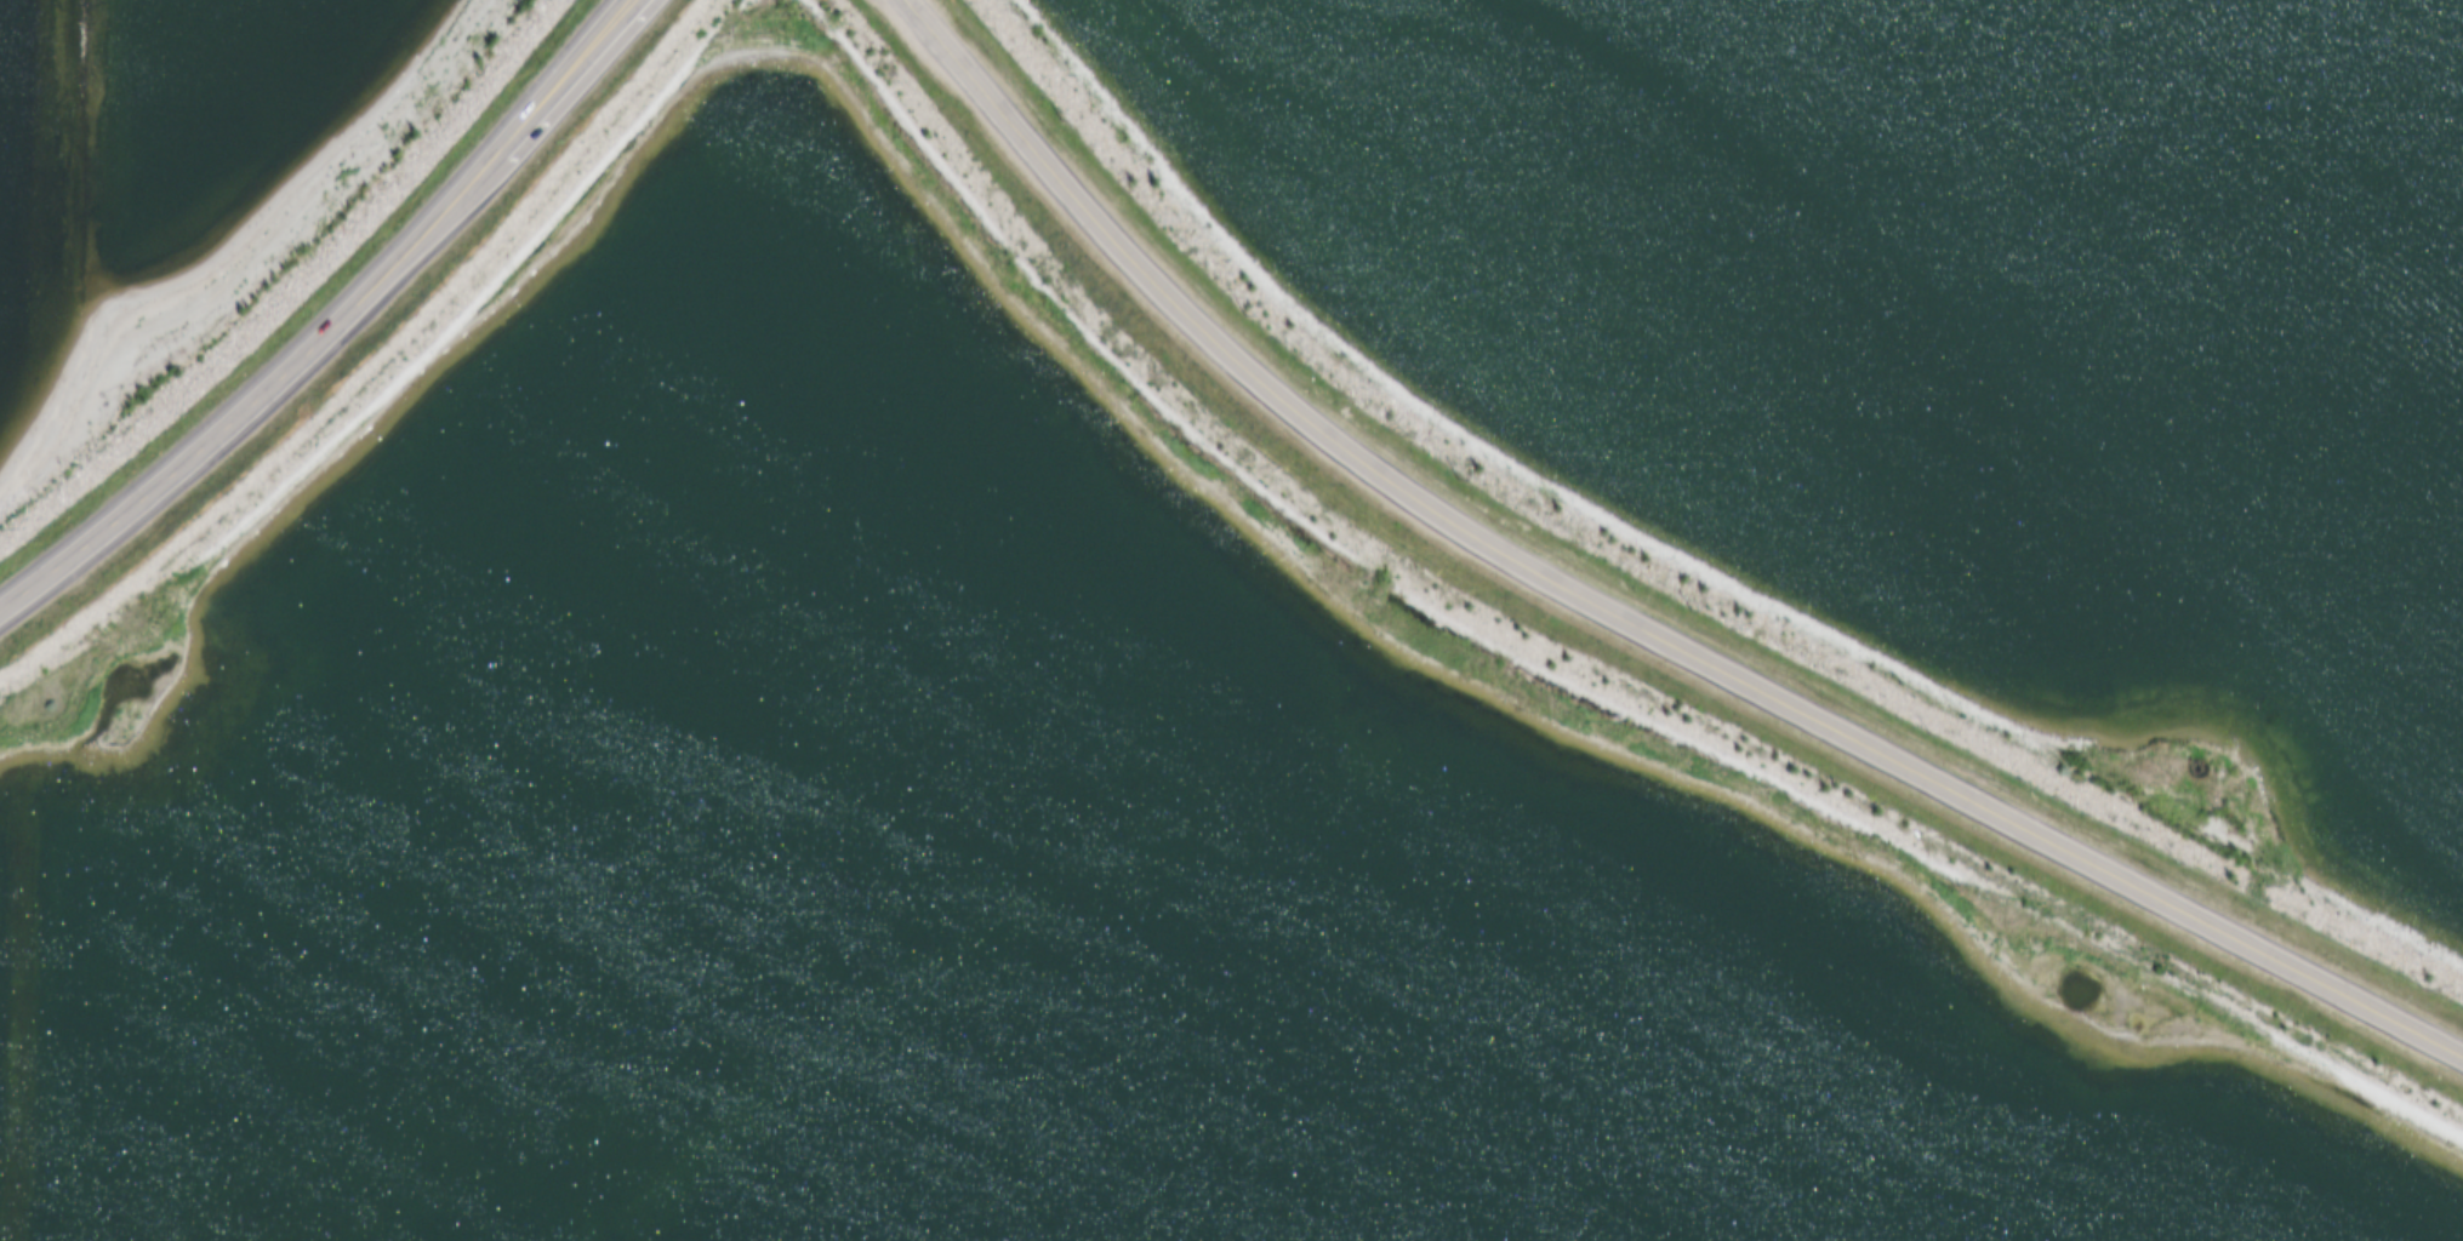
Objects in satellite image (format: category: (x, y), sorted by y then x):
road: (538, 72)
road: (249, 382)
road: (1652, 578)

